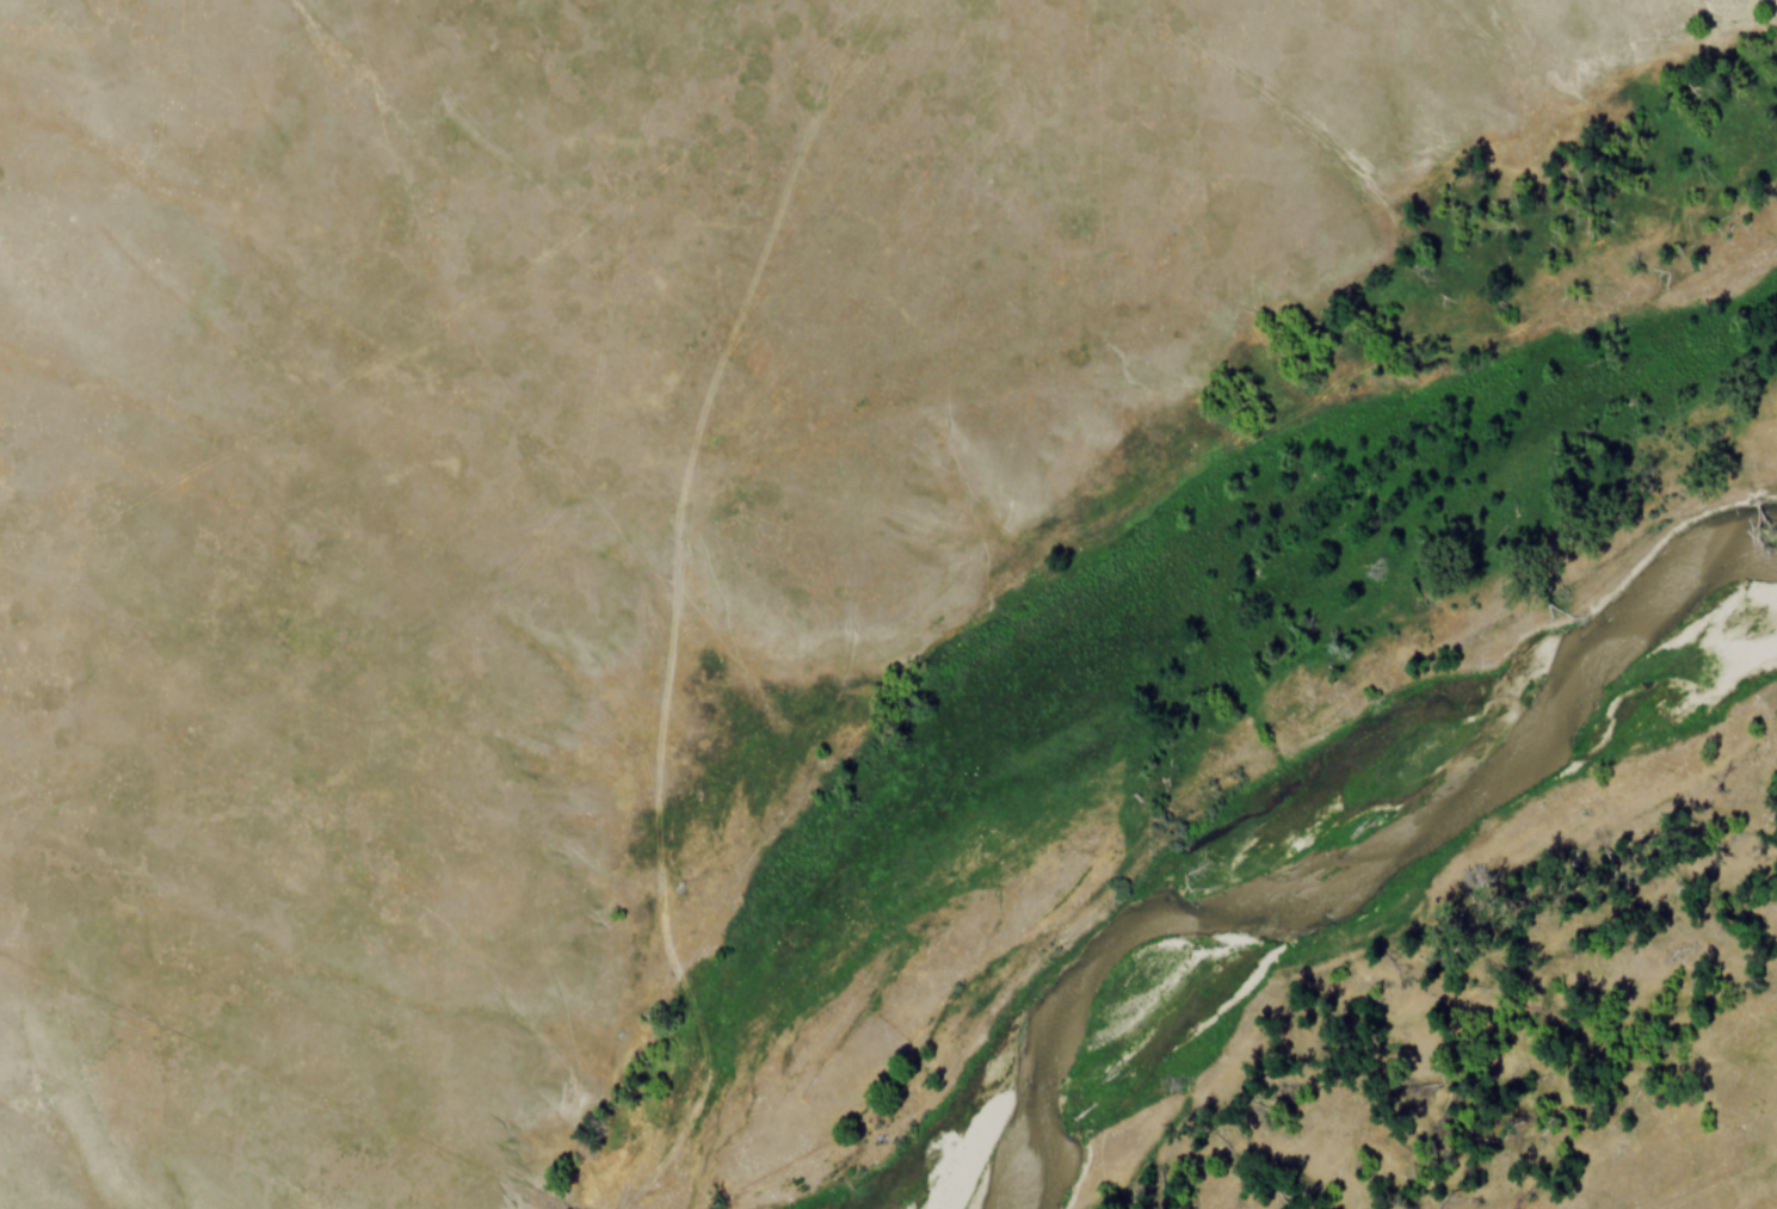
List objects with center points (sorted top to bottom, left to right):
river: (1337, 874)

